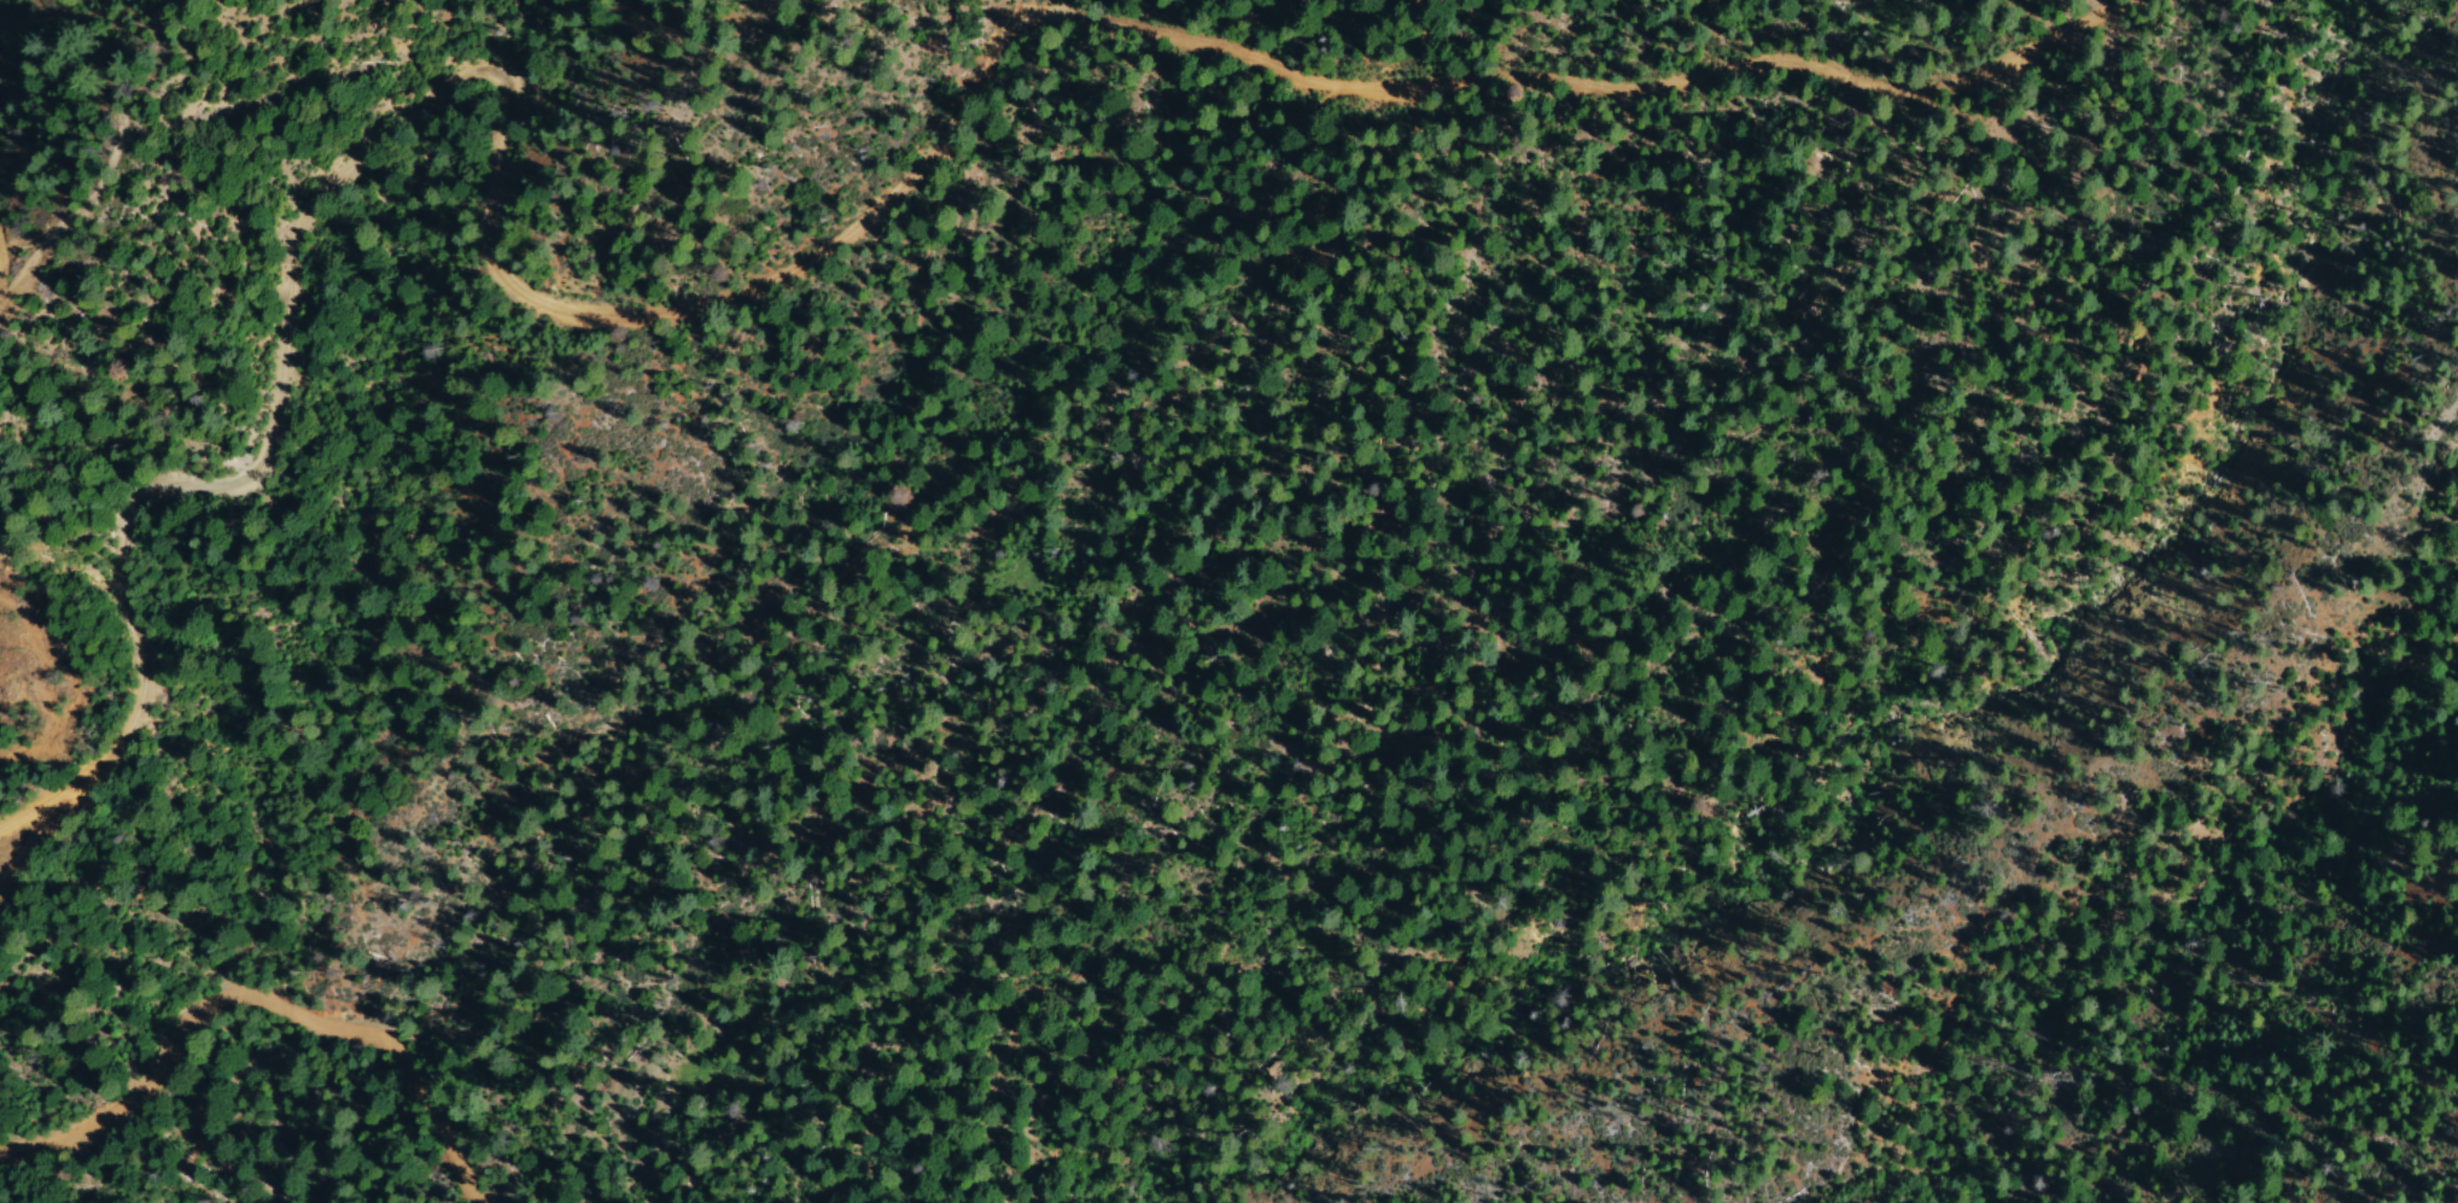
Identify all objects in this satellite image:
road: (850, 197)

